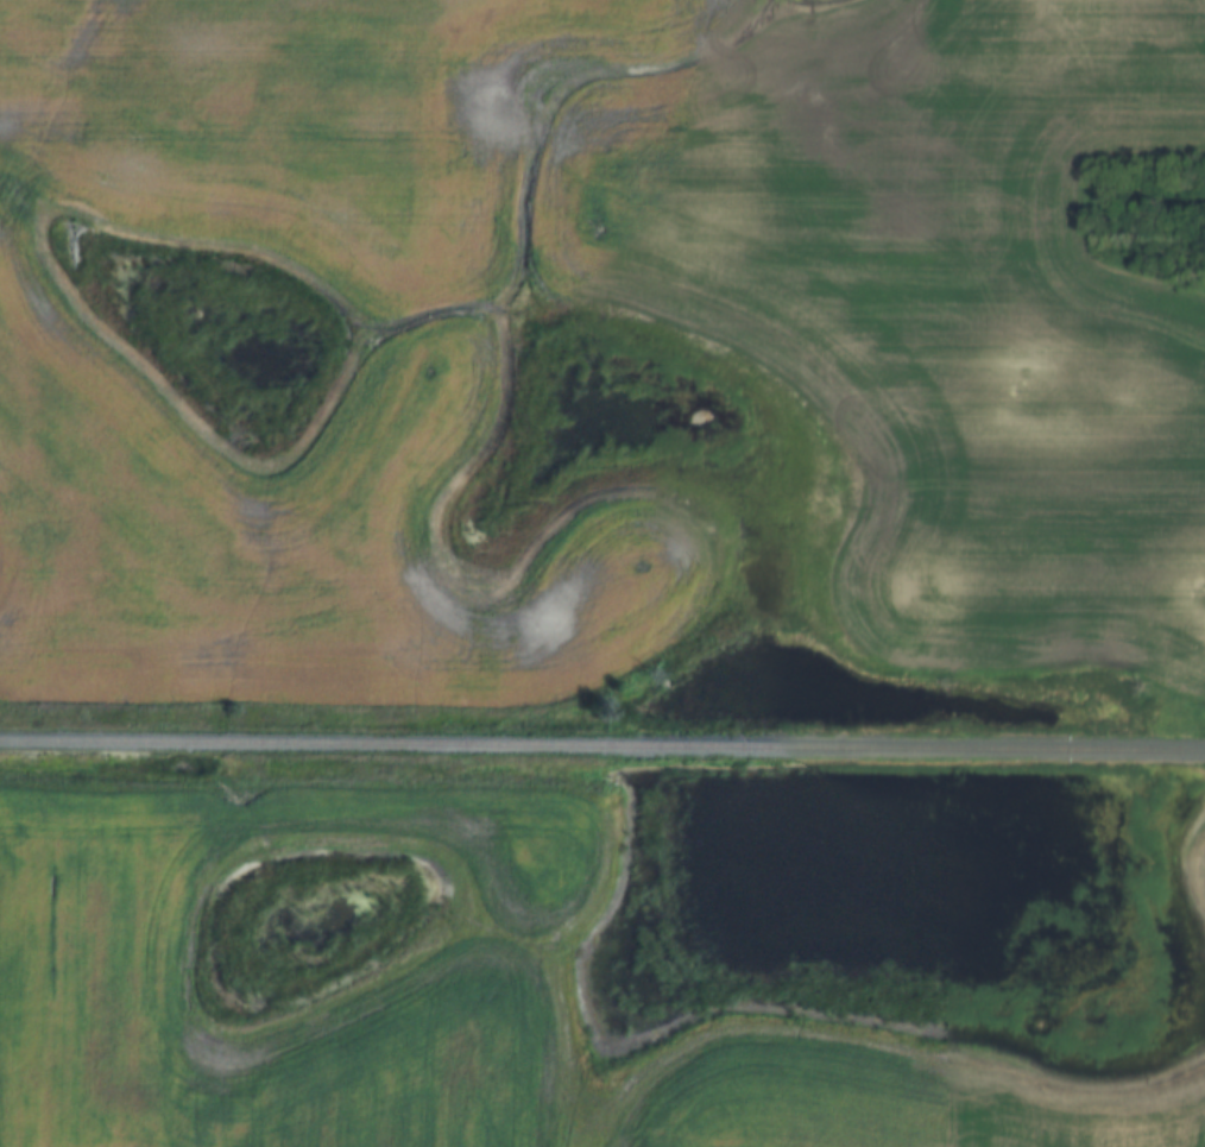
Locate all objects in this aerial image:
railway: (602, 745)

